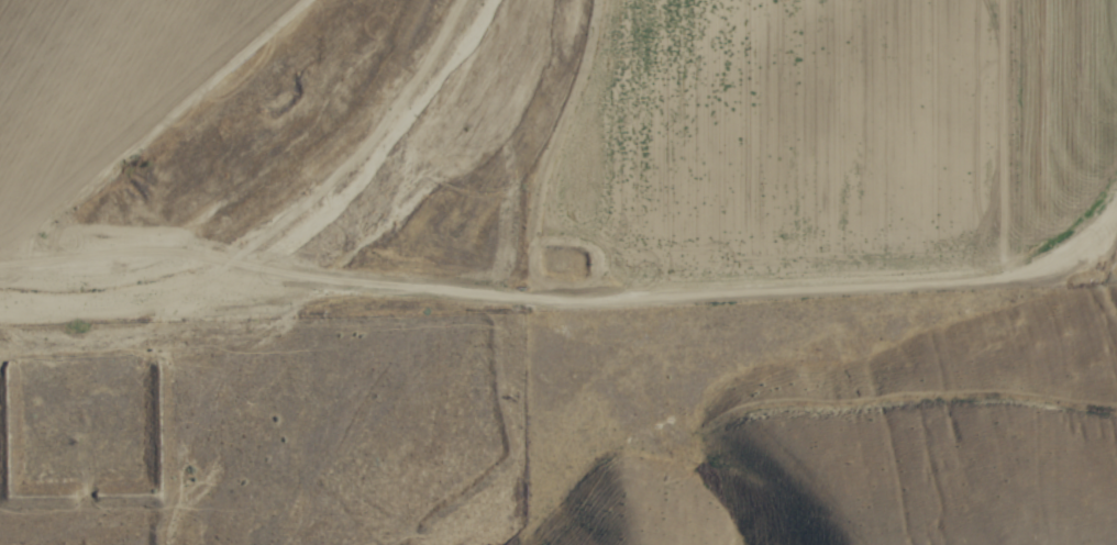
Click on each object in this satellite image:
road: (528, 159)
road: (569, 318)
road: (765, 416)

